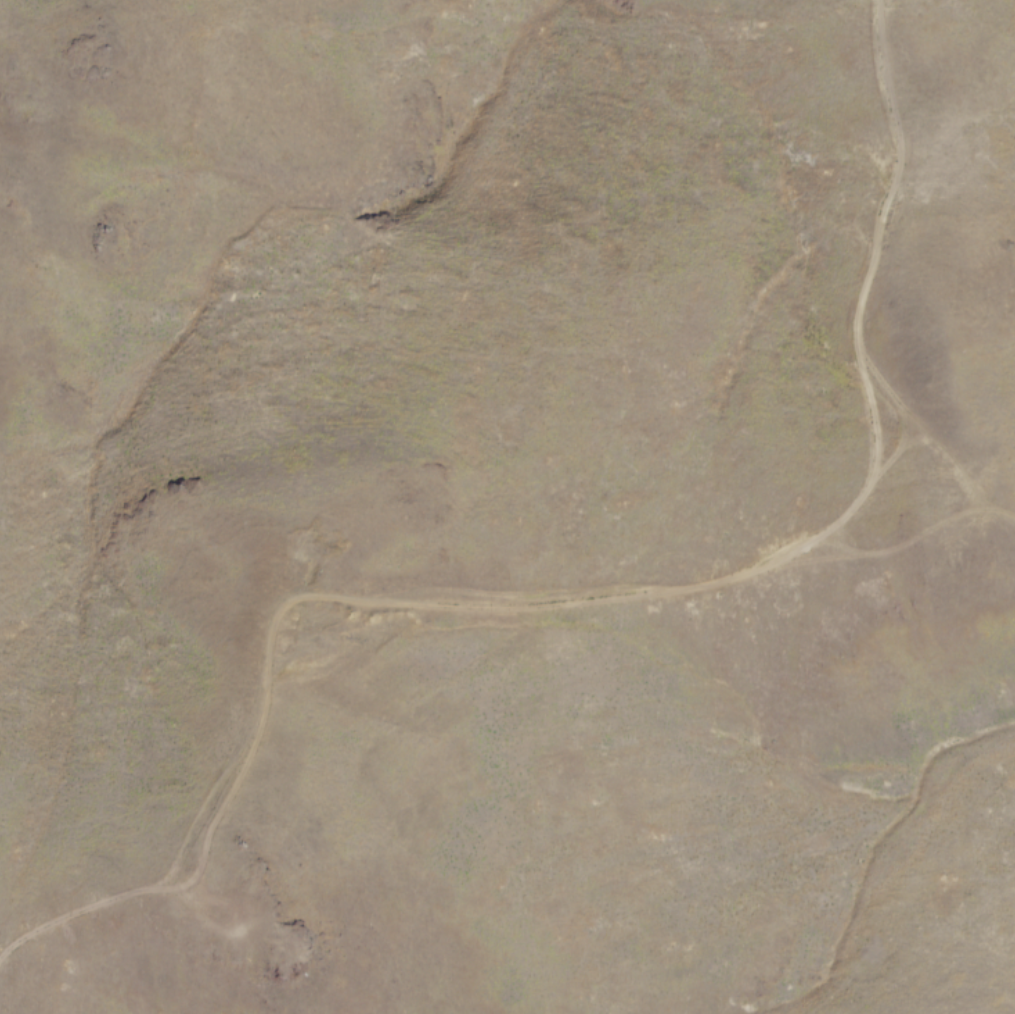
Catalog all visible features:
road: (918, 532)
road: (601, 597)

